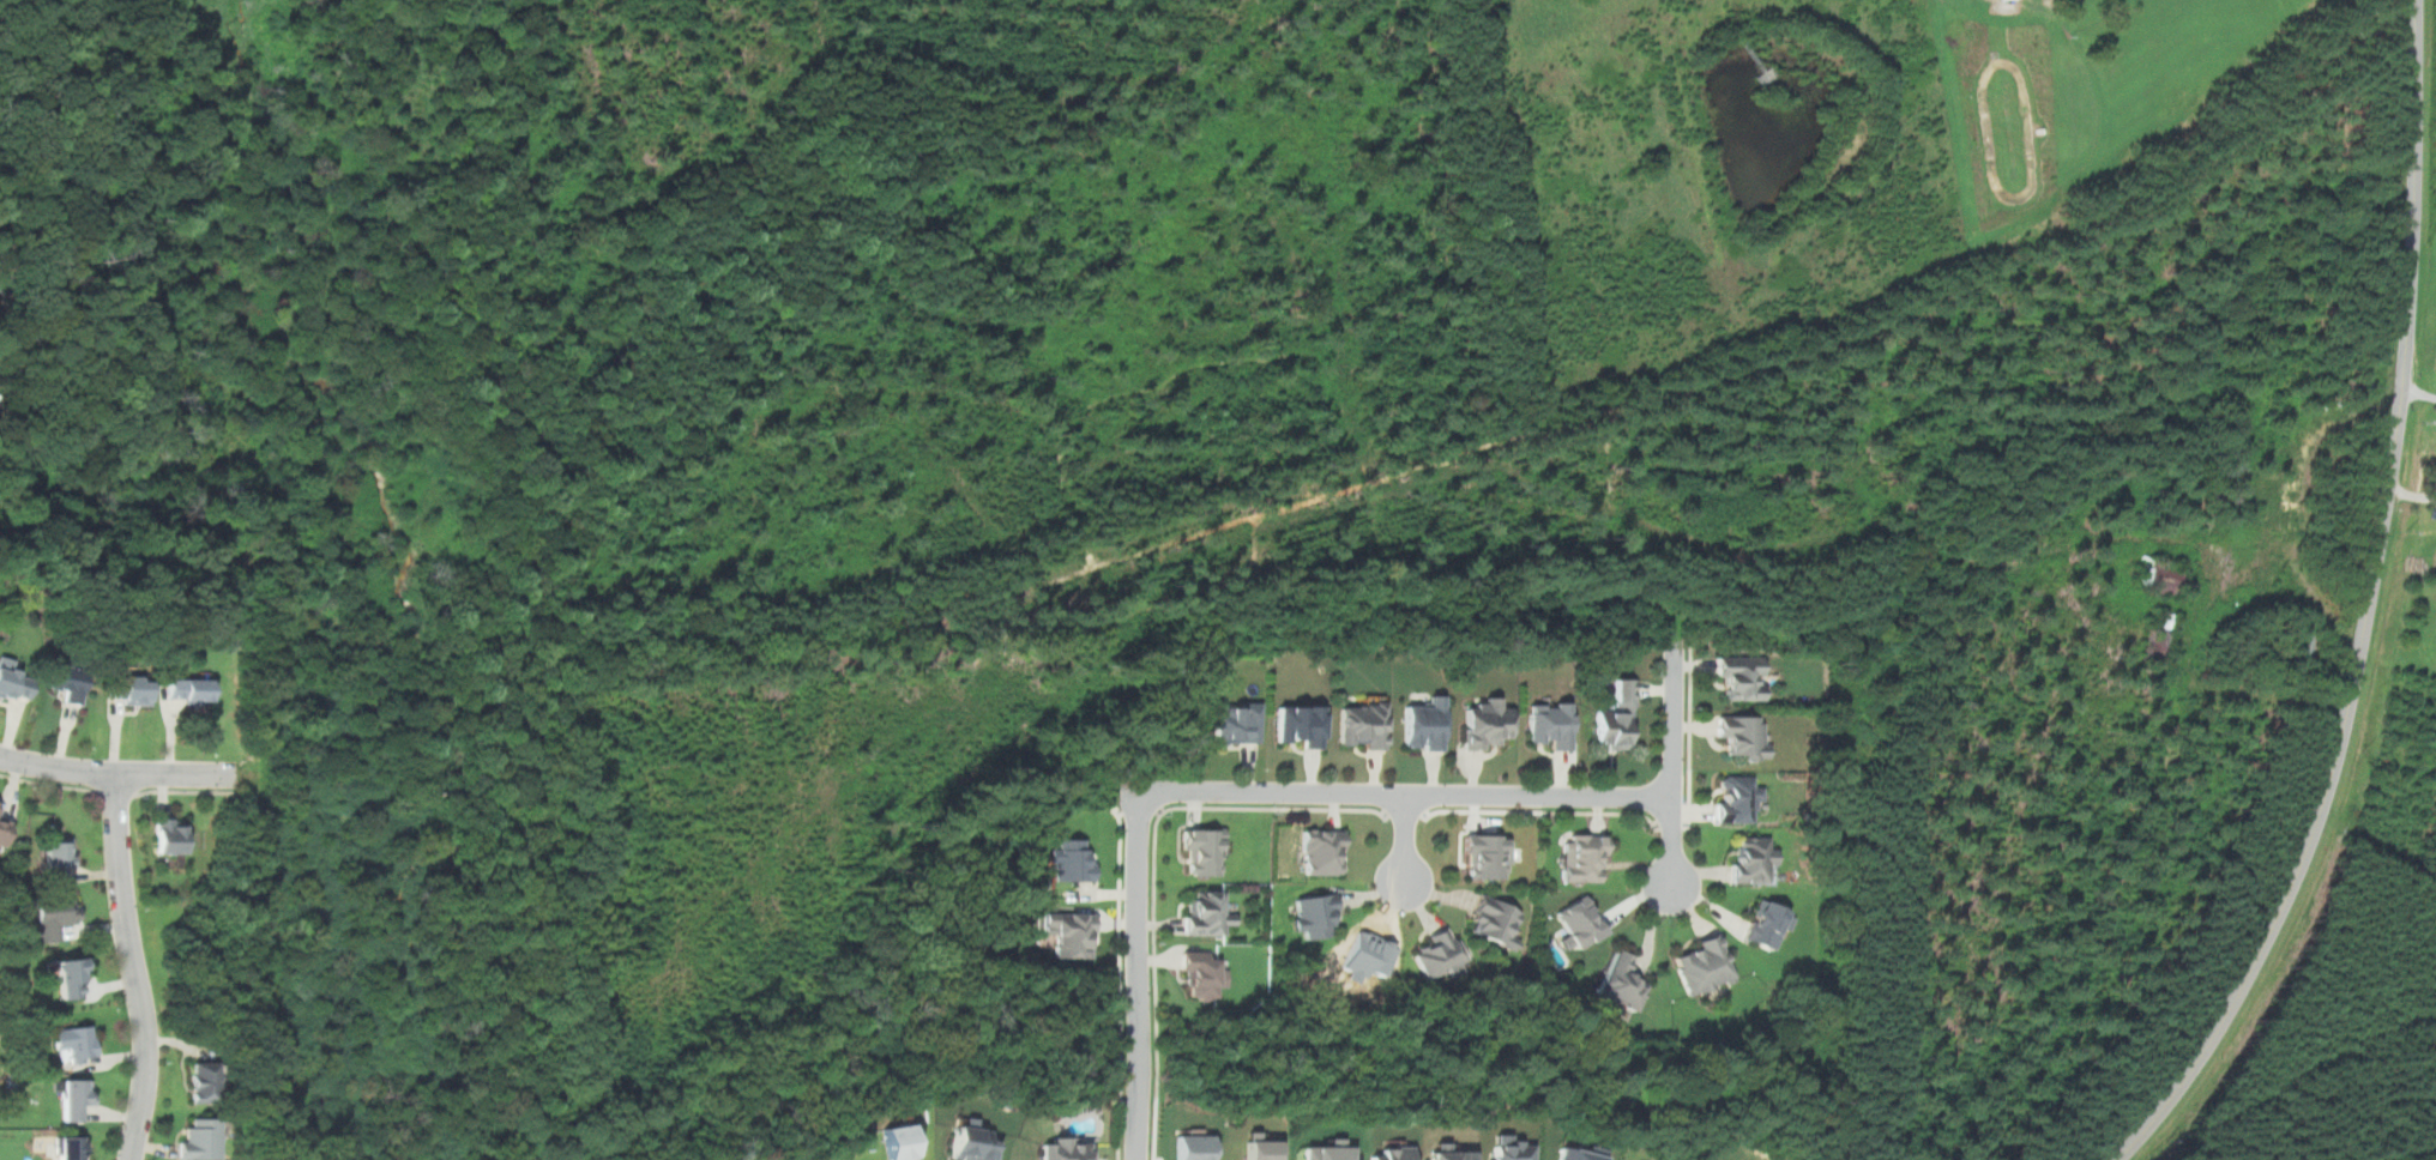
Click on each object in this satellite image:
building: (0, 377)
building: (2218, 508)
building: (2164, 579)
road: (2368, 610)
building: (2303, 644)
building: (2153, 653)
building: (1741, 676)
building: (13, 679)
building: (70, 682)
building: (131, 689)
building: (188, 690)
building: (1617, 717)
building: (1237, 724)
building: (1487, 724)
building: (1550, 724)
building: (1300, 725)
building: (1362, 725)
building: (1424, 725)
road: (1689, 736)
building: (1743, 736)
road: (1674, 767)
road: (119, 775)
road: (48, 783)
road: (182, 790)
road: (115, 792)
road: (1406, 793)
building: (1736, 798)
road: (1136, 811)
road: (1542, 811)
road: (1404, 814)
road: (1672, 824)
building: (4, 830)
building: (170, 835)
road: (1405, 841)
building: (1320, 850)
building: (1204, 851)
building: (59, 856)
building: (1487, 857)
building: (1584, 858)
building: (1753, 859)
building: (1071, 860)
road: (1154, 872)
building: (54, 913)
building: (1208, 913)
building: (1314, 913)
building: (1495, 923)
building: (1579, 924)
building: (1768, 924)
building: (1072, 932)
building: (1440, 955)
building: (1704, 966)
road: (137, 968)
building: (1204, 974)
road: (1138, 975)
building: (72, 978)
road: (1120, 981)
building: (1621, 981)
building: (76, 1044)
building: (204, 1082)
building: (76, 1099)
building: (200, 1138)
building: (896, 1141)
building: (972, 1141)
building: (1193, 1147)
building: (1259, 1147)
building: (71, 1148)
building: (1511, 1148)
building: (1067, 1149)
building: (1329, 1150)
building: (1447, 1152)
building: (1397, 1153)
building: (1579, 1153)

